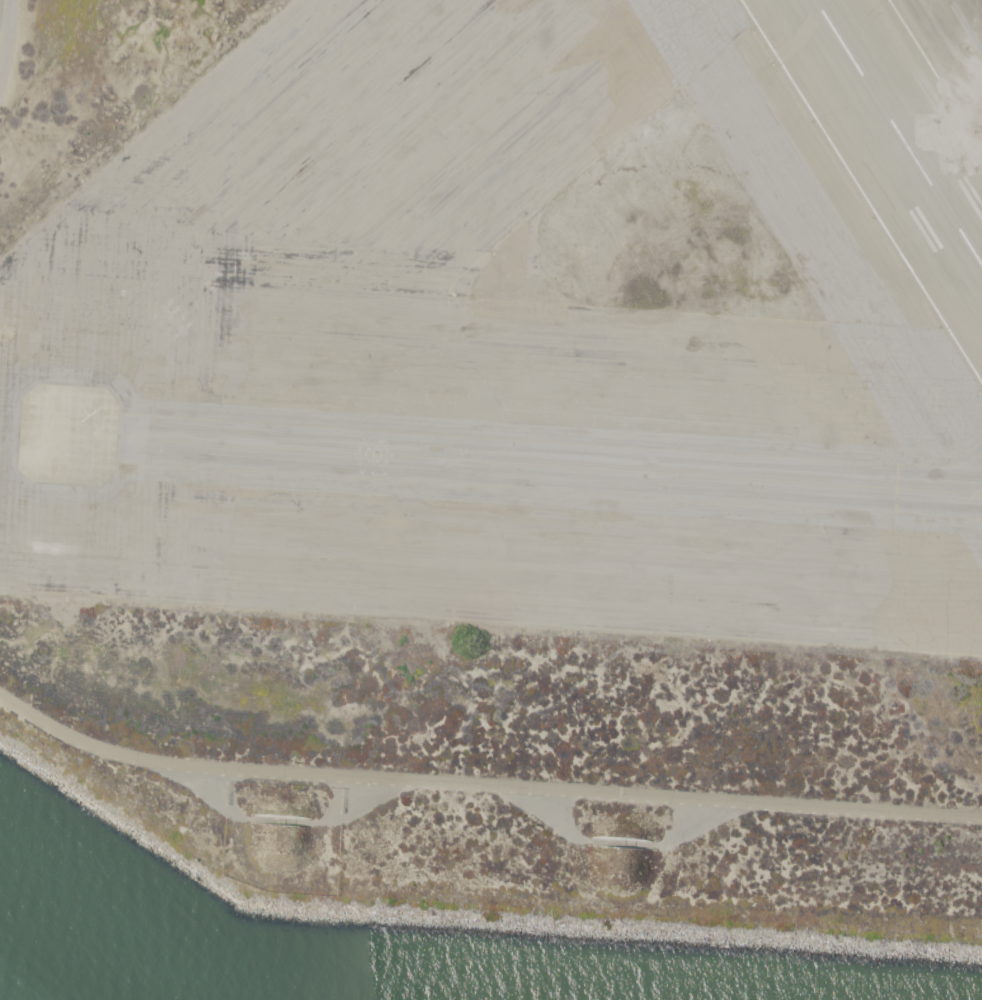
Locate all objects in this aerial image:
road: (483, 786)

